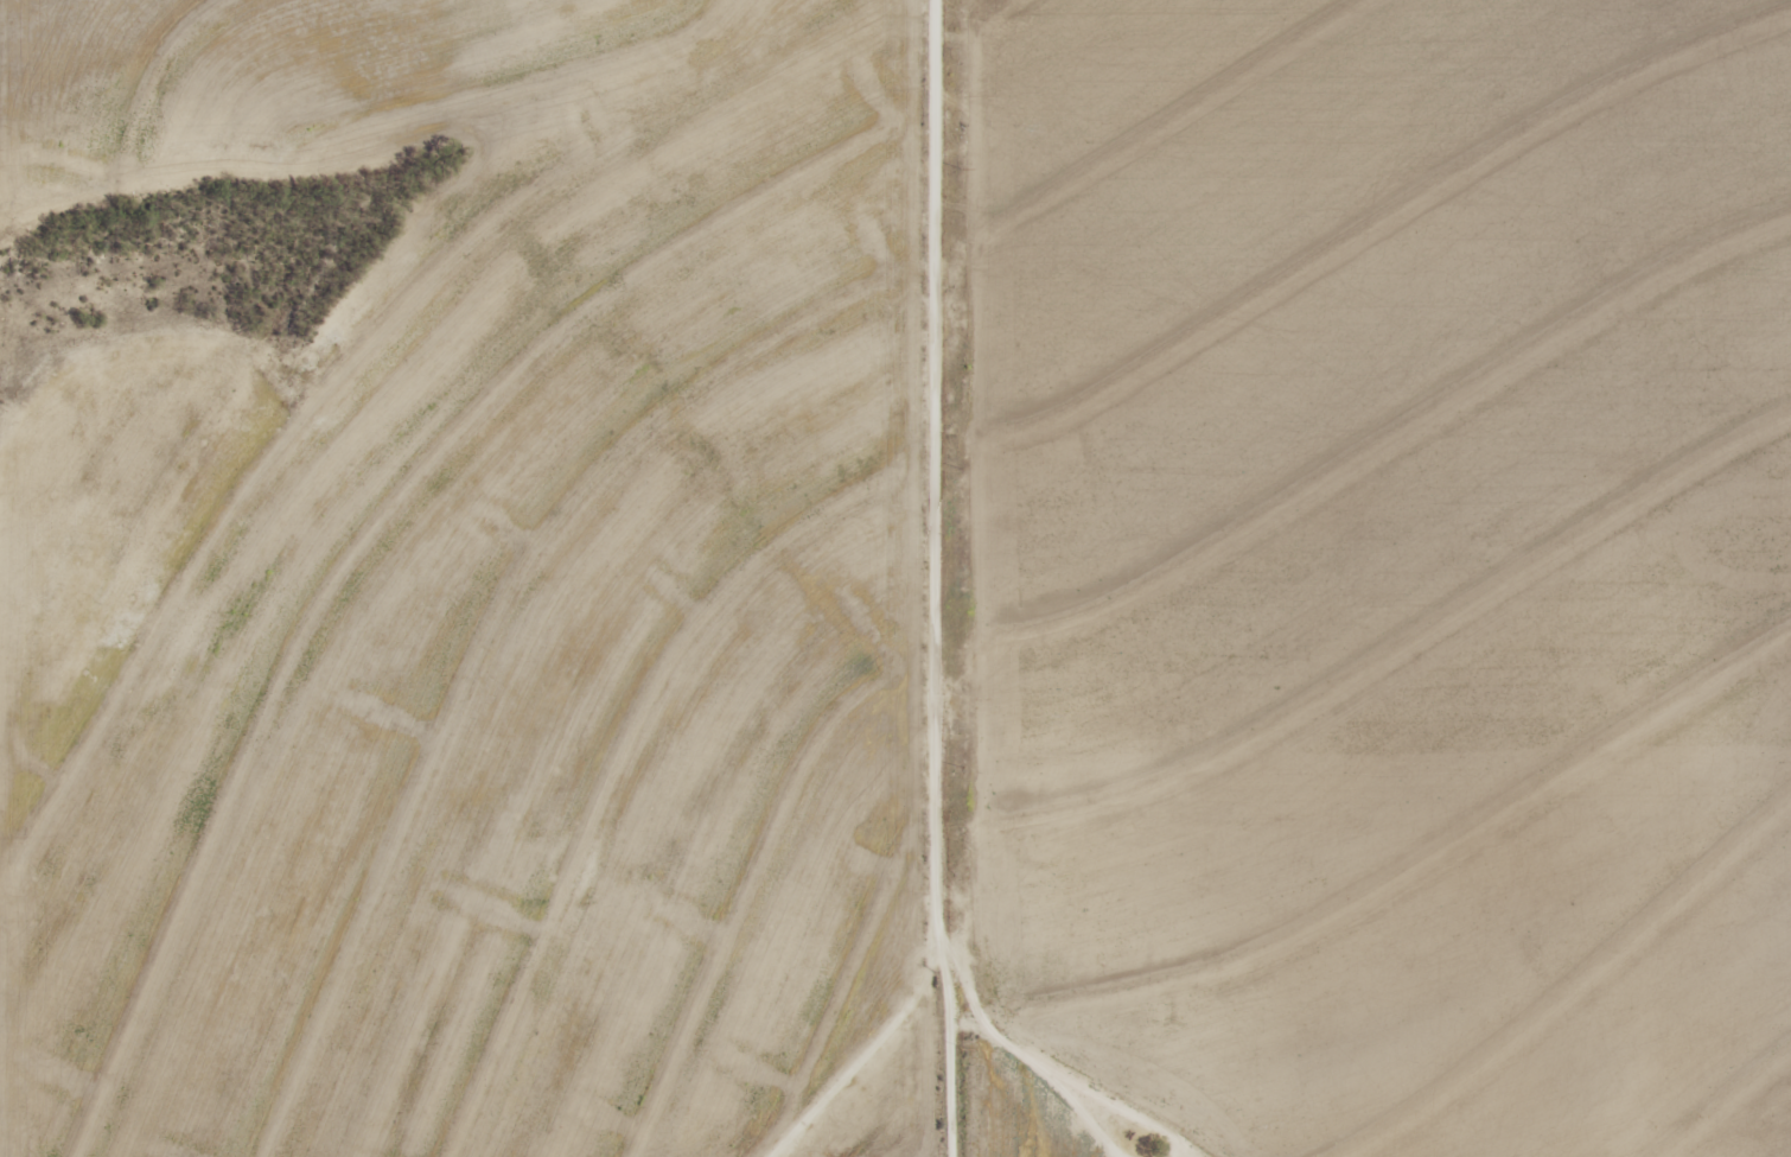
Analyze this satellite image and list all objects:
road: (884, 629)
road: (785, 1032)

